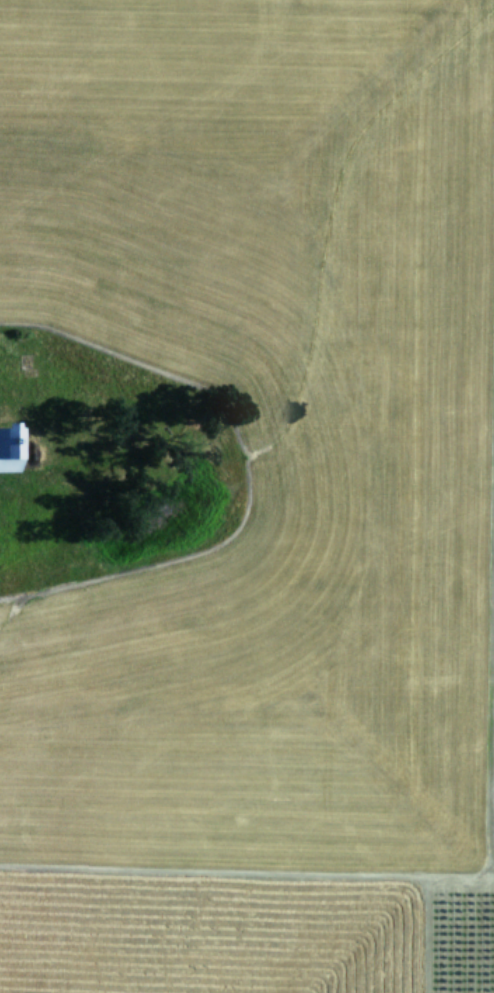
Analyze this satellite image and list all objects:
building: (6, 449)
crop: (247, 496)

